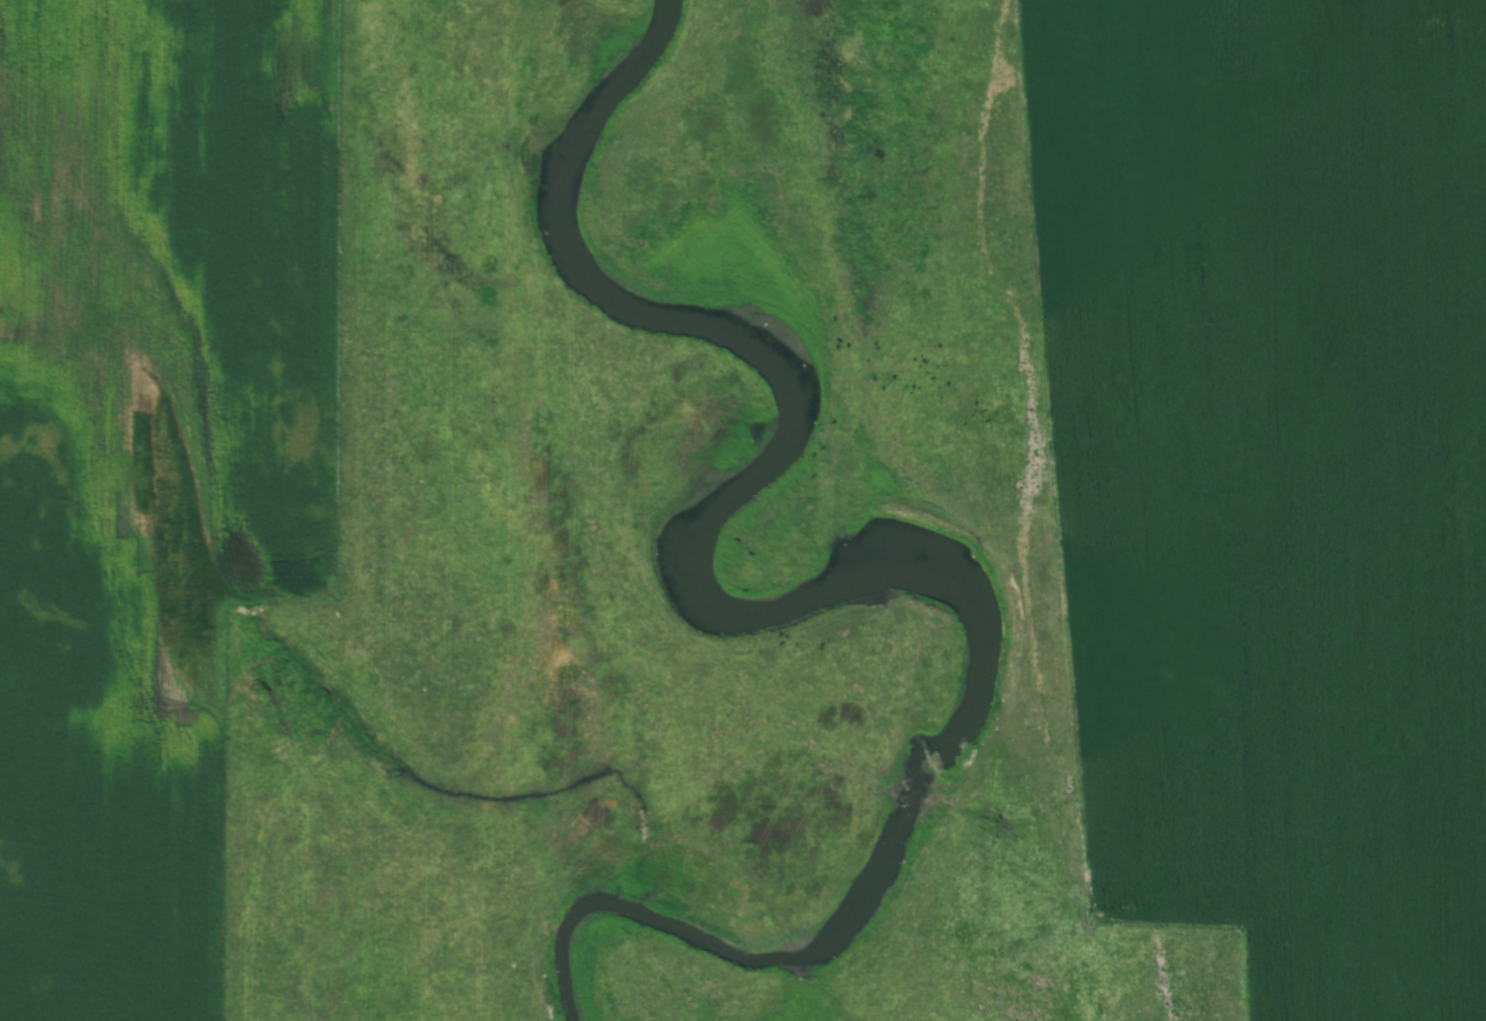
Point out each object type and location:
crop: (1276, 479)

